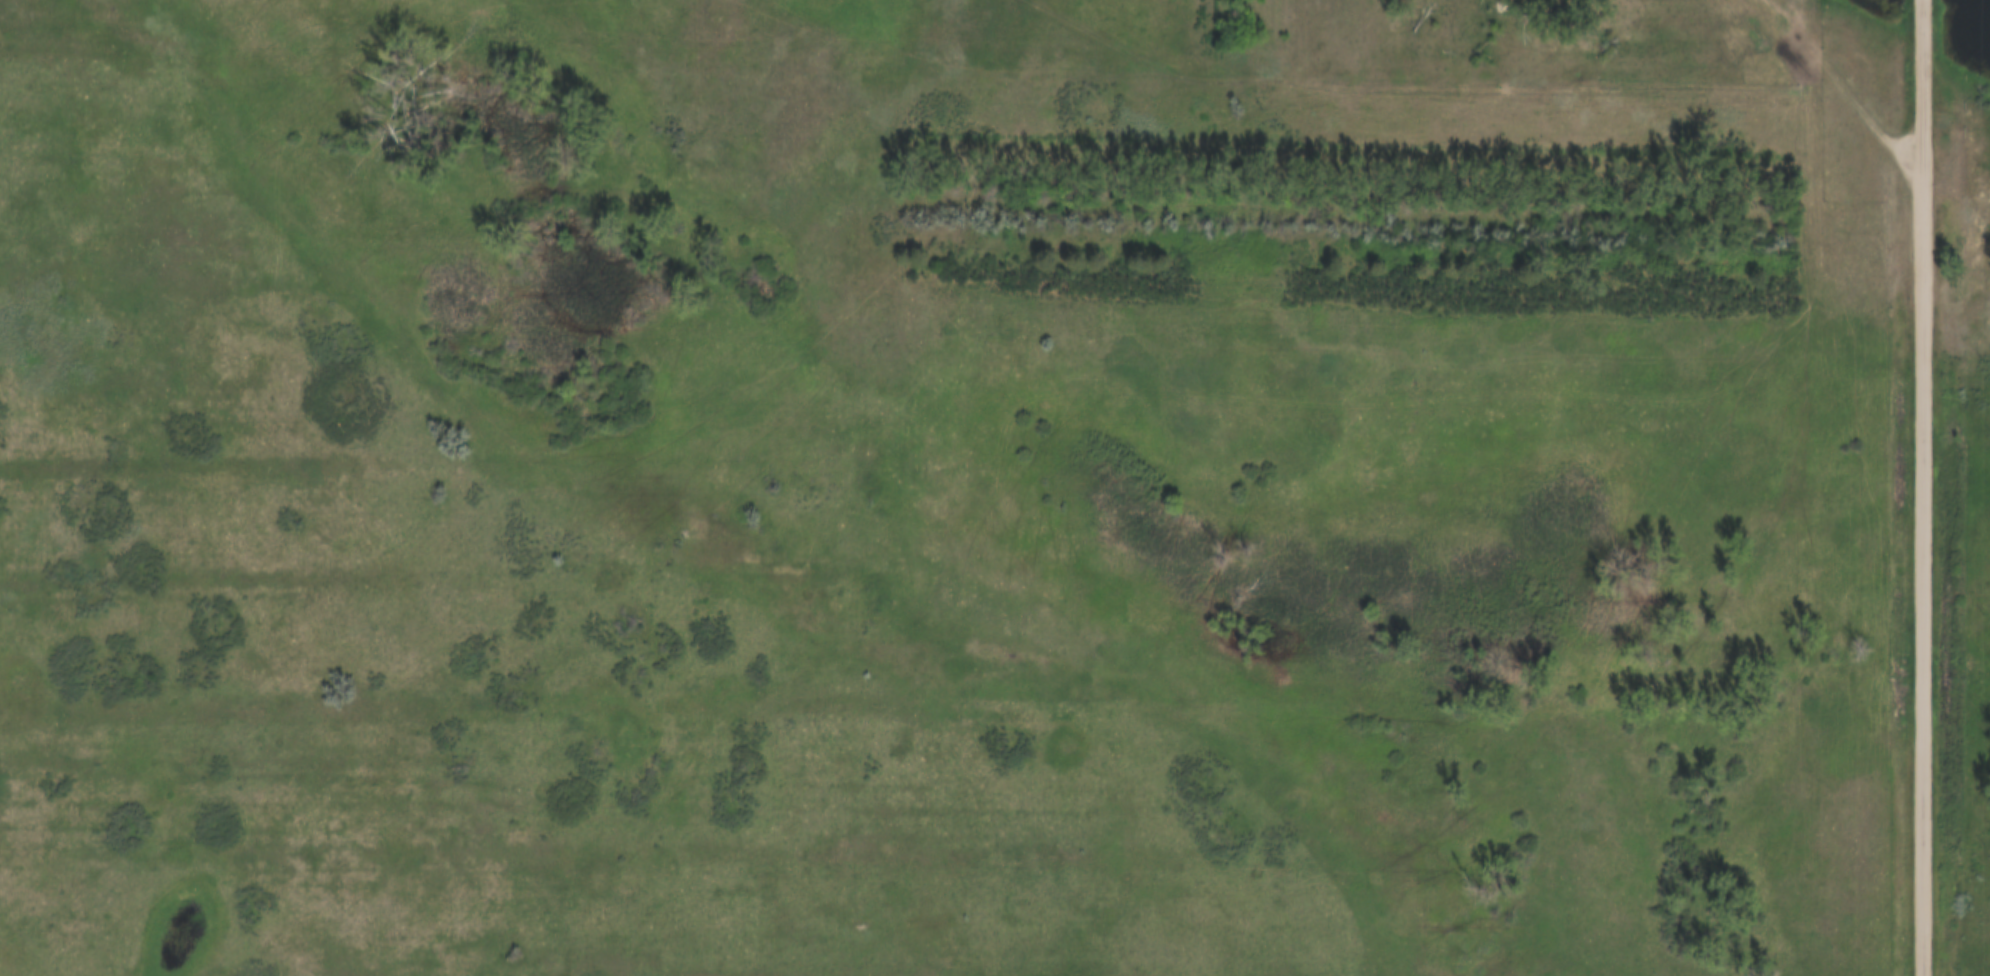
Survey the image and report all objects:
road: (1847, 84)
road: (1922, 487)

